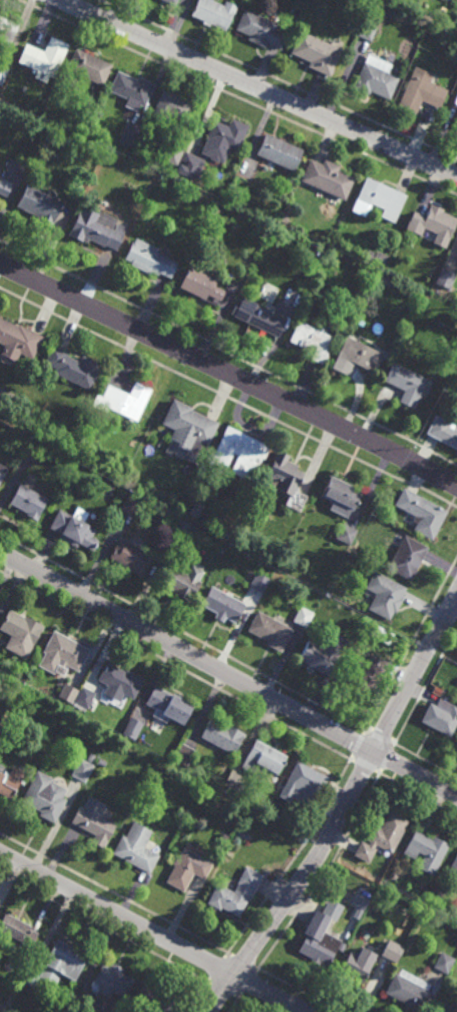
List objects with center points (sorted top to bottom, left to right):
building: (217, 0)
building: (171, 2)
building: (214, 13)
building: (260, 28)
building: (368, 29)
building: (7, 31)
building: (316, 51)
building: (44, 57)
building: (89, 66)
building: (3, 73)
building: (376, 77)
road: (260, 87)
building: (132, 88)
building: (421, 91)
road: (239, 97)
building: (173, 105)
building: (456, 123)
building: (128, 133)
building: (223, 138)
building: (278, 151)
building: (174, 154)
building: (190, 165)
building: (327, 178)
building: (5, 186)
building: (381, 198)
building: (41, 203)
building: (215, 210)
building: (432, 222)
building: (96, 228)
building: (316, 252)
building: (376, 258)
building: (149, 259)
building: (446, 278)
building: (385, 281)
building: (200, 286)
building: (259, 317)
building: (18, 340)
building: (312, 341)
road: (228, 352)
building: (358, 355)
building: (73, 368)
road: (228, 374)
building: (406, 383)
building: (125, 401)
building: (189, 430)
building: (443, 433)
building: (31, 451)
building: (240, 456)
building: (2, 472)
building: (283, 476)
building: (341, 496)
building: (28, 502)
building: (132, 506)
building: (421, 514)
building: (74, 529)
building: (180, 532)
building: (347, 535)
building: (130, 559)
building: (407, 559)
building: (197, 574)
building: (260, 584)
building: (180, 585)
building: (384, 597)
building: (222, 607)
building: (302, 618)
building: (22, 630)
building: (270, 633)
building: (380, 636)
road: (187, 651)
building: (62, 653)
building: (324, 655)
road: (415, 676)
building: (365, 677)
building: (120, 681)
building: (67, 691)
building: (1, 694)
building: (84, 694)
building: (168, 703)
building: (441, 715)
building: (133, 726)
building: (222, 733)
building: (90, 756)
building: (263, 758)
building: (100, 761)
building: (81, 769)
road: (415, 774)
building: (11, 779)
building: (304, 784)
building: (44, 795)
building: (268, 817)
building: (93, 820)
building: (242, 834)
building: (382, 836)
building: (427, 850)
building: (136, 852)
building: (187, 869)
building: (454, 870)
road: (297, 885)
building: (236, 893)
building: (358, 913)
building: (17, 929)
road: (152, 931)
building: (322, 935)
building: (391, 950)
building: (62, 962)
building: (444, 962)
building: (356, 967)
building: (112, 980)
building: (409, 990)
building: (151, 1000)
building: (444, 1008)

